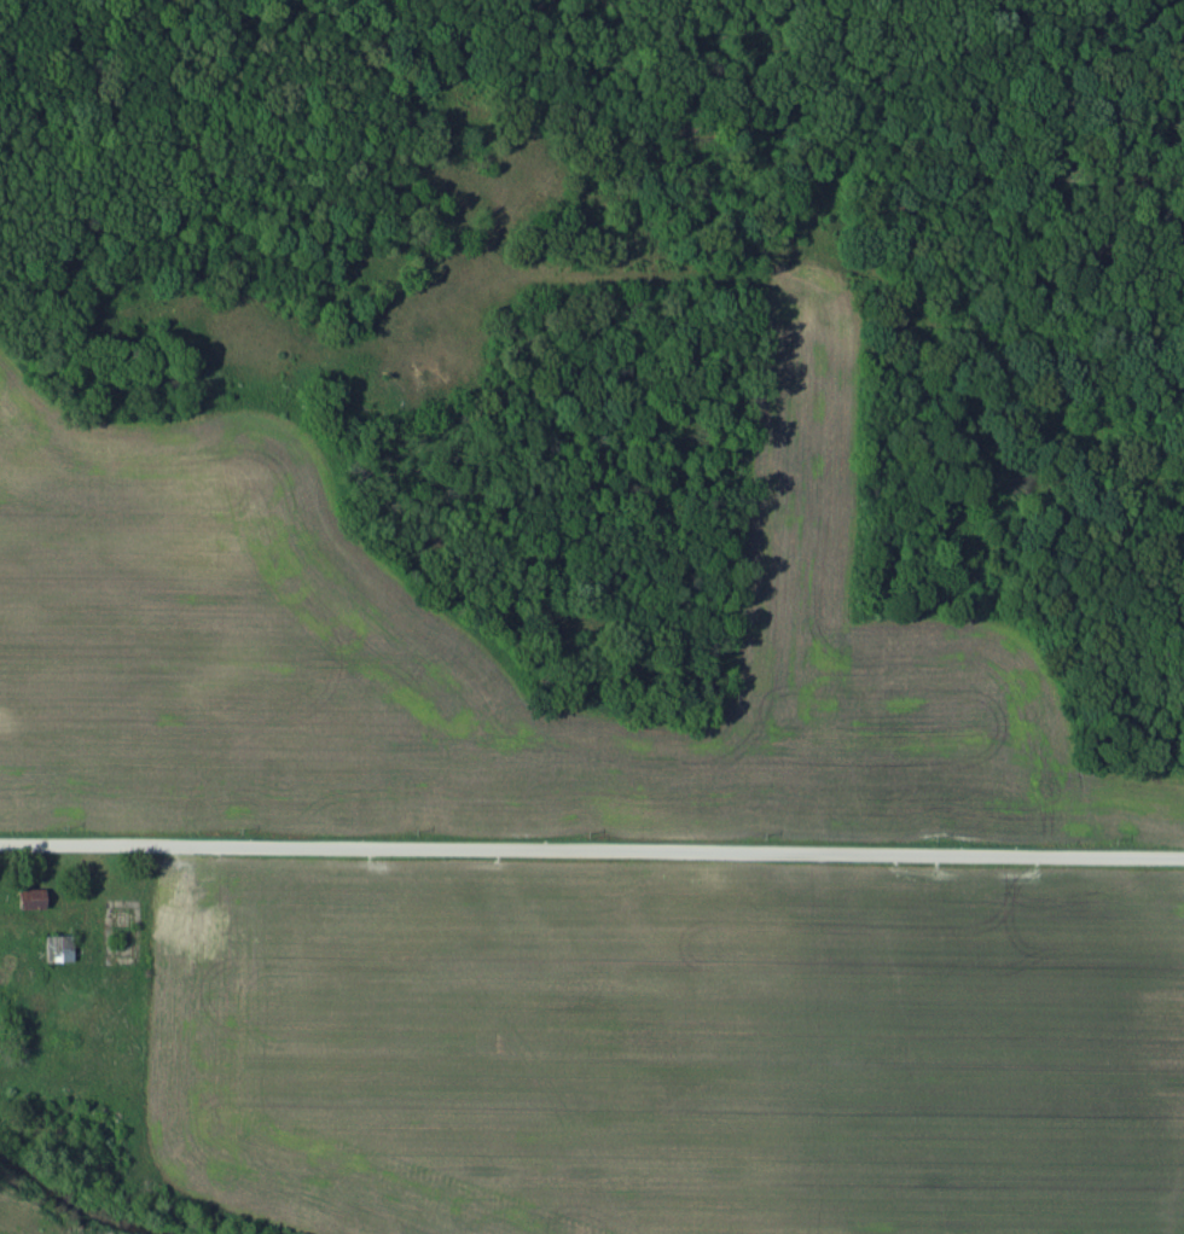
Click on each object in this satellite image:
road: (592, 850)
building: (31, 900)
building: (58, 950)

